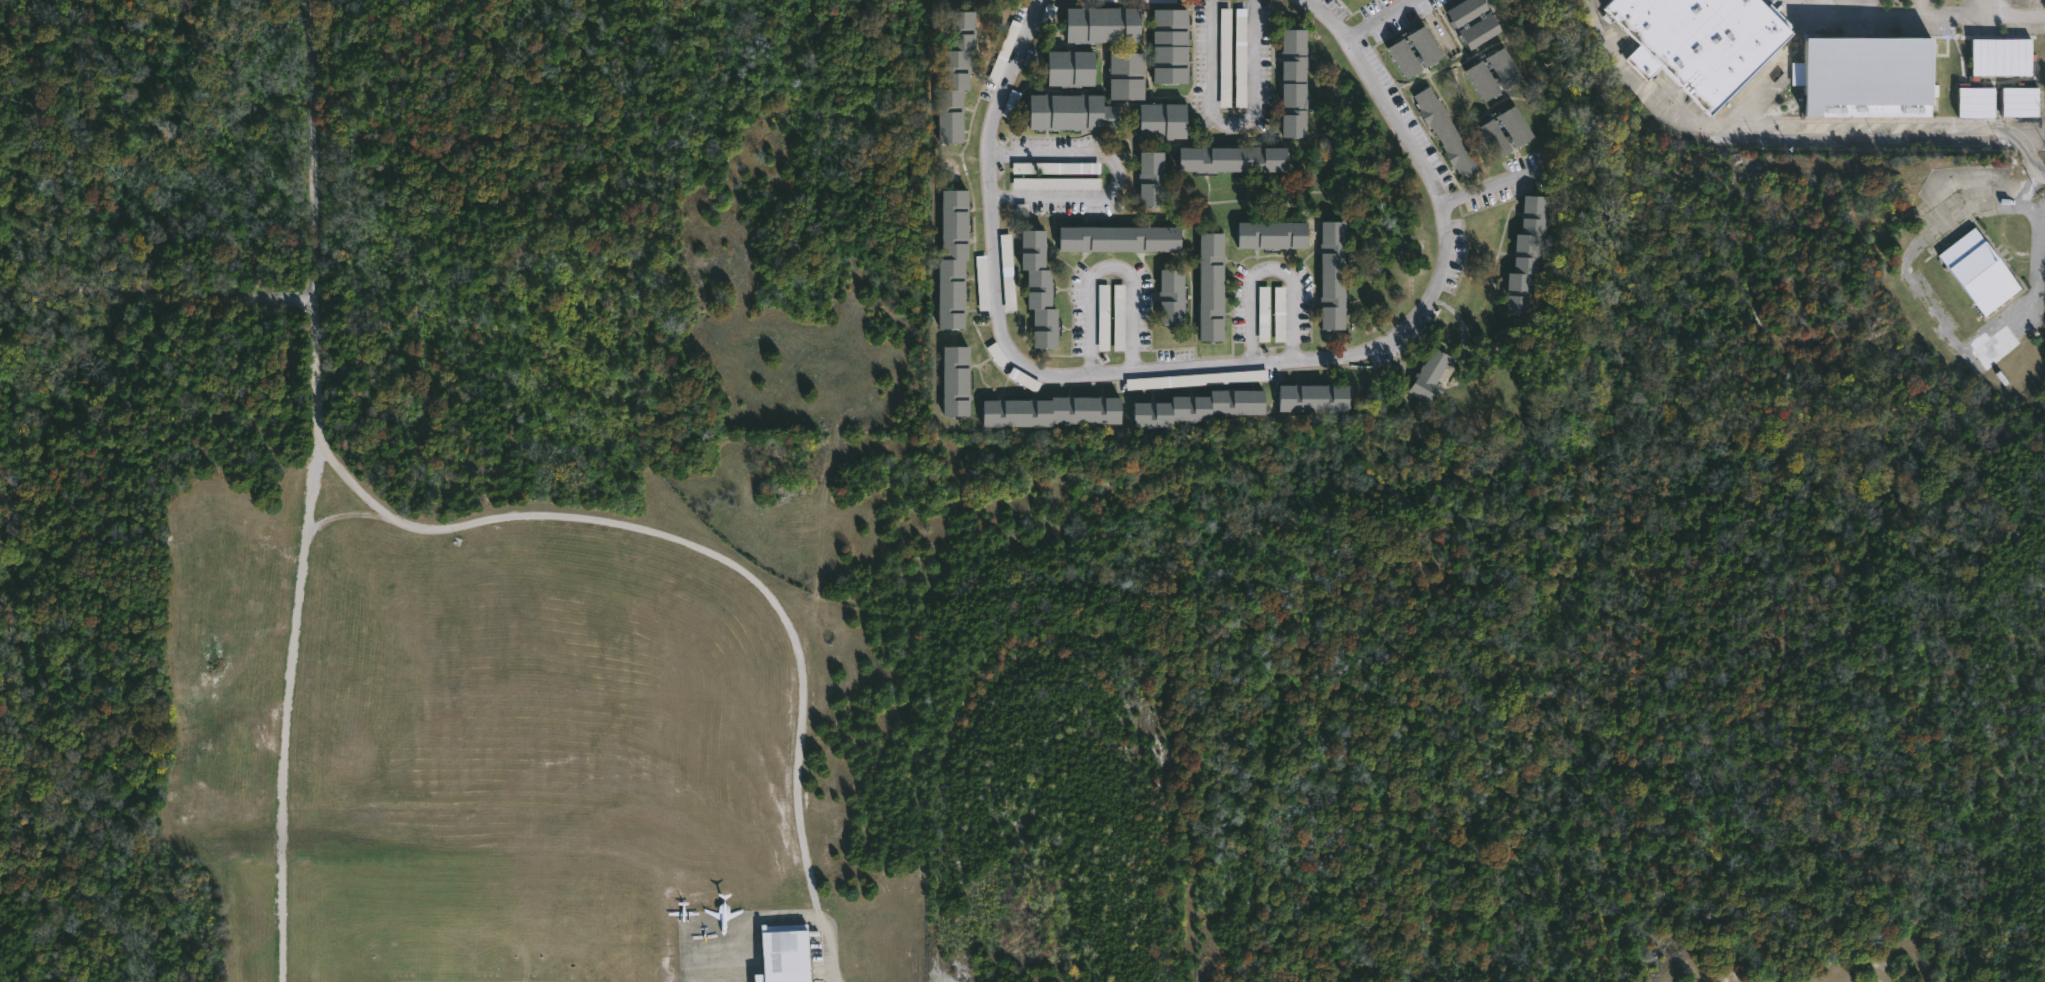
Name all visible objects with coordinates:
road: (1819, 7)
road: (1866, 7)
road: (1916, 7)
road: (1988, 7)
building: (1467, 10)
road: (1918, 15)
road: (1377, 18)
road: (1435, 23)
building: (1103, 24)
building: (1480, 29)
building: (1703, 41)
building: (1171, 45)
building: (1425, 45)
building: (1224, 57)
building: (1405, 57)
building: (2000, 57)
building: (1239, 58)
building: (1071, 67)
building: (1506, 67)
building: (956, 75)
building: (1127, 75)
building: (1864, 77)
building: (1484, 79)
building: (1295, 82)
building: (1975, 102)
building: (2019, 102)
building: (1071, 111)
building: (1163, 120)
road: (1228, 125)
road: (1799, 125)
building: (1517, 126)
building: (1445, 132)
building: (1495, 138)
road: (318, 149)
building: (1232, 158)
building: (1055, 168)
road: (1113, 175)
building: (1151, 178)
building: (1055, 183)
road: (1489, 186)
road: (2028, 188)
road: (2033, 205)
building: (1273, 234)
building: (1119, 238)
building: (1528, 254)
building: (953, 258)
road: (1104, 266)
road: (1270, 266)
building: (1007, 272)
building: (1975, 274)
building: (1334, 275)
building: (981, 283)
building: (1212, 287)
building: (1039, 288)
road: (156, 292)
building: (1172, 296)
building: (1262, 313)
building: (1278, 314)
building: (1102, 317)
road: (1945, 334)
road: (1216, 363)
building: (1431, 376)
building: (1195, 379)
building: (956, 381)
building: (1315, 398)
building: (1202, 407)
building: (1052, 412)
road: (673, 529)
airport: (402, 537)
road: (295, 712)
airport apron: (801, 944)
building: (785, 952)

